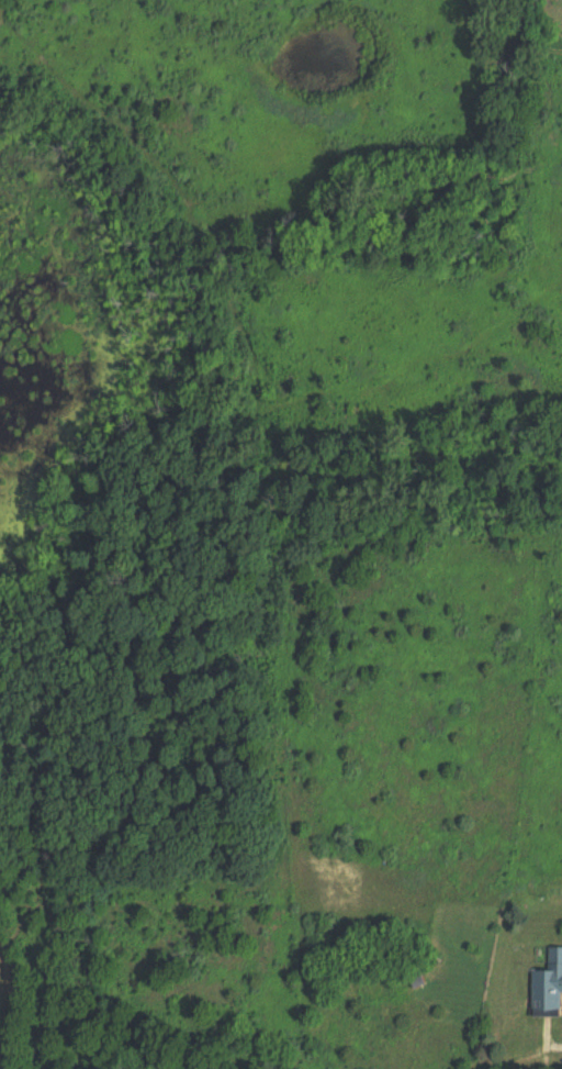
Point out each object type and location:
building: (549, 988)

